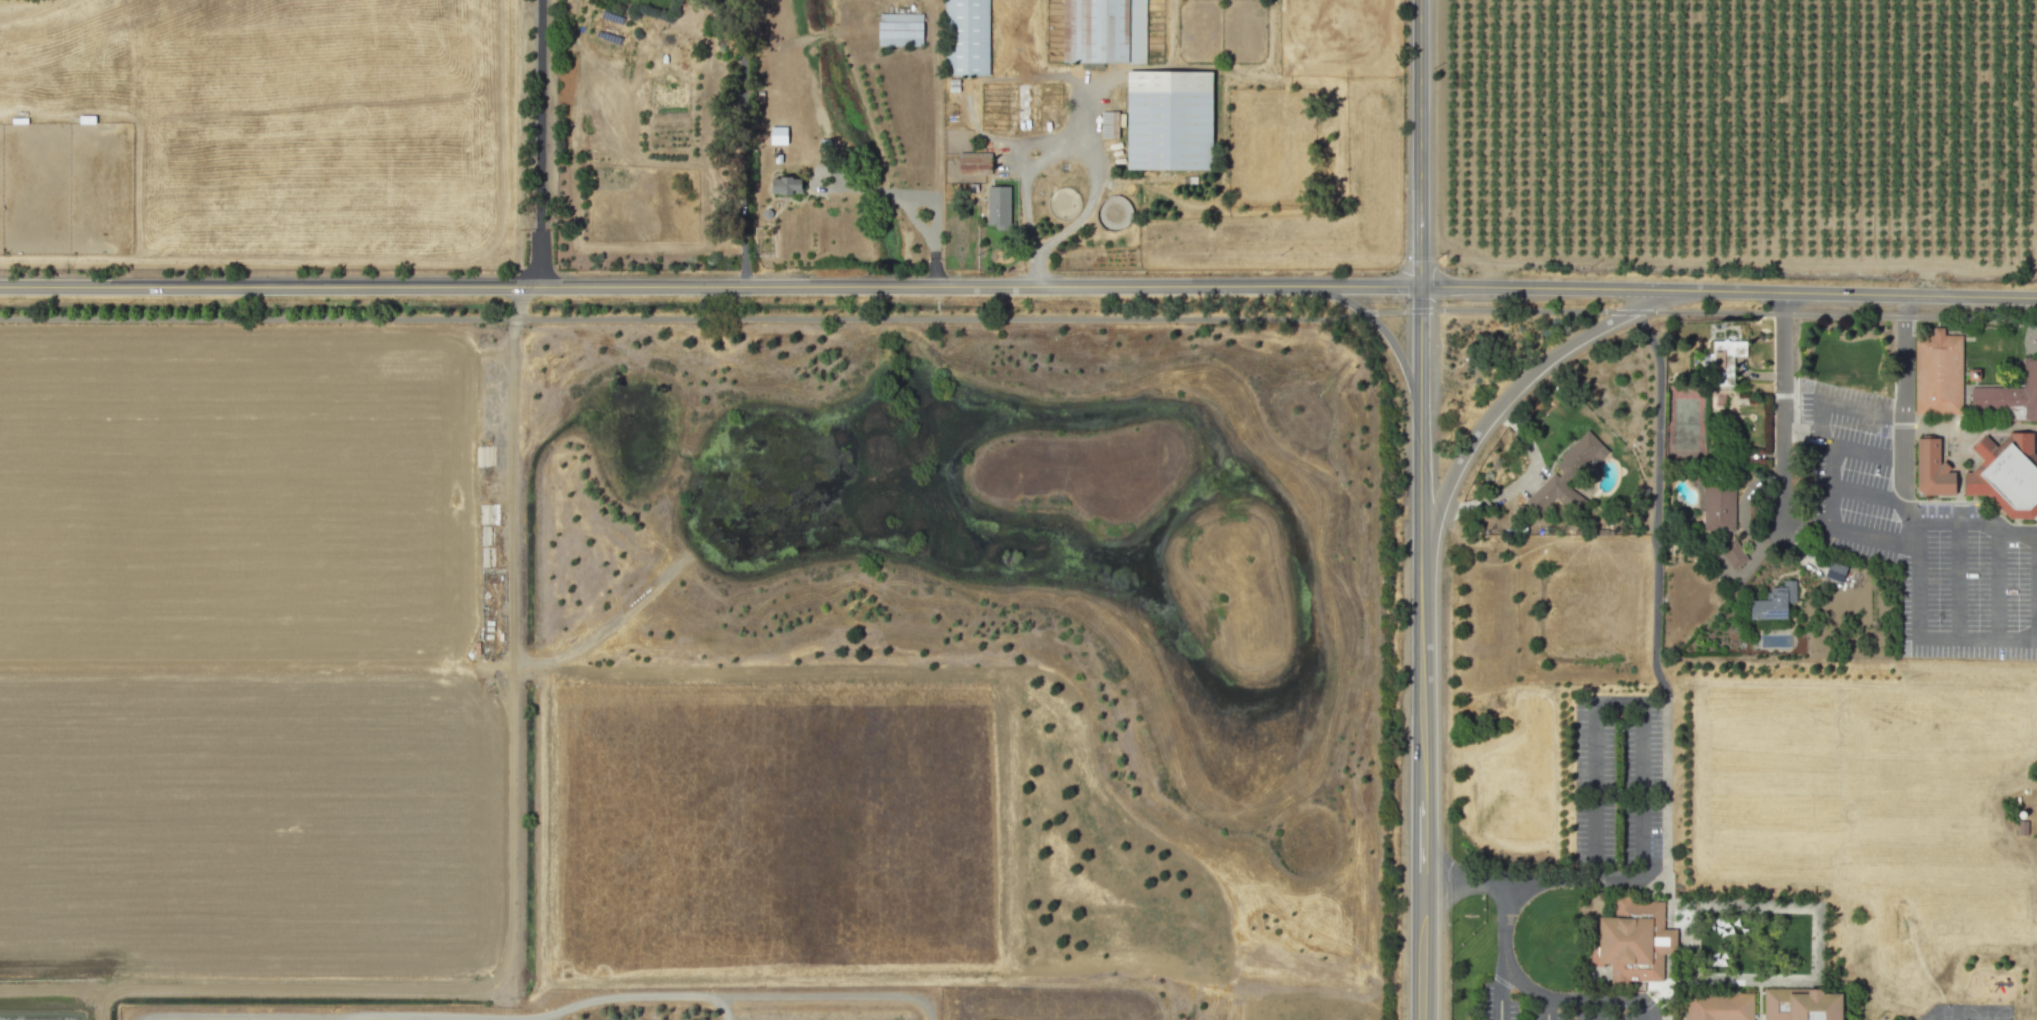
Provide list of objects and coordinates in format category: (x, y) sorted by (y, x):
building: (901, 28)
building: (1104, 31)
building: (967, 37)
building: (1023, 105)
building: (1170, 119)
building: (778, 135)
road: (743, 139)
road: (541, 142)
road: (938, 147)
road: (1073, 154)
building: (974, 162)
building: (786, 185)
road: (886, 195)
road: (918, 199)
building: (998, 205)
road: (934, 264)
road: (1035, 271)
road: (710, 285)
road: (1728, 293)
road: (516, 312)
road: (1018, 318)
road: (1380, 325)
road: (1904, 358)
building: (1723, 360)
building: (1938, 373)
road: (1513, 385)
building: (2009, 396)
road: (1783, 406)
road: (1861, 411)
park: (1687, 421)
road: (1804, 431)
road: (1865, 454)
road: (1904, 455)
road: (1828, 464)
building: (1932, 468)
building: (1567, 474)
building: (2006, 474)
road: (1521, 480)
road: (1869, 496)
road: (1657, 500)
building: (1718, 508)
road: (1908, 508)
road: (1420, 509)
road: (1809, 523)
road: (1976, 525)
road: (1874, 534)
parking lot: (1919, 536)
building: (1734, 554)
building: (1834, 571)
road: (1916, 580)
road: (1958, 581)
road: (1998, 586)
road: (2036, 586)
building: (1773, 602)
road: (1977, 638)
parking lot: (1615, 781)
road: (1642, 790)
road: (1595, 791)
road: (1667, 860)
road: (1532, 880)
building: (1632, 940)
road: (1817, 940)
road: (1693, 941)
road: (1537, 992)
road: (830, 995)
road: (1500, 996)
building: (1801, 1004)
parking lot: (1538, 1007)
building: (1719, 1007)
road: (1549, 1009)
road: (1594, 1010)
road: (541, 1012)
road: (244, 1014)
road: (510, 1019)

